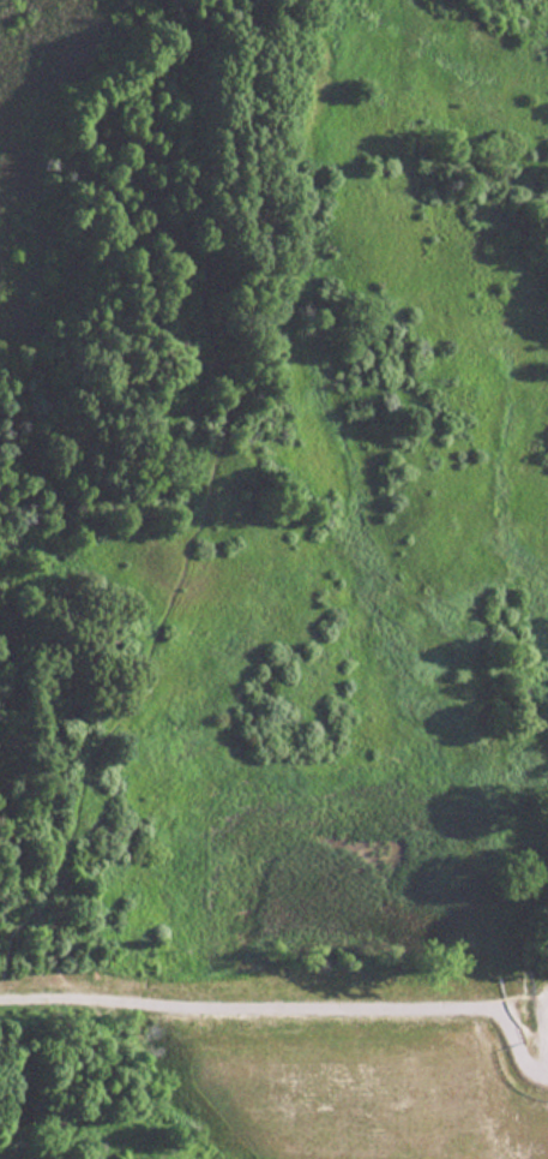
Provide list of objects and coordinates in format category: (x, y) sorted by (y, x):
park: (273, 579)
road: (273, 981)
parking lot: (538, 1018)

